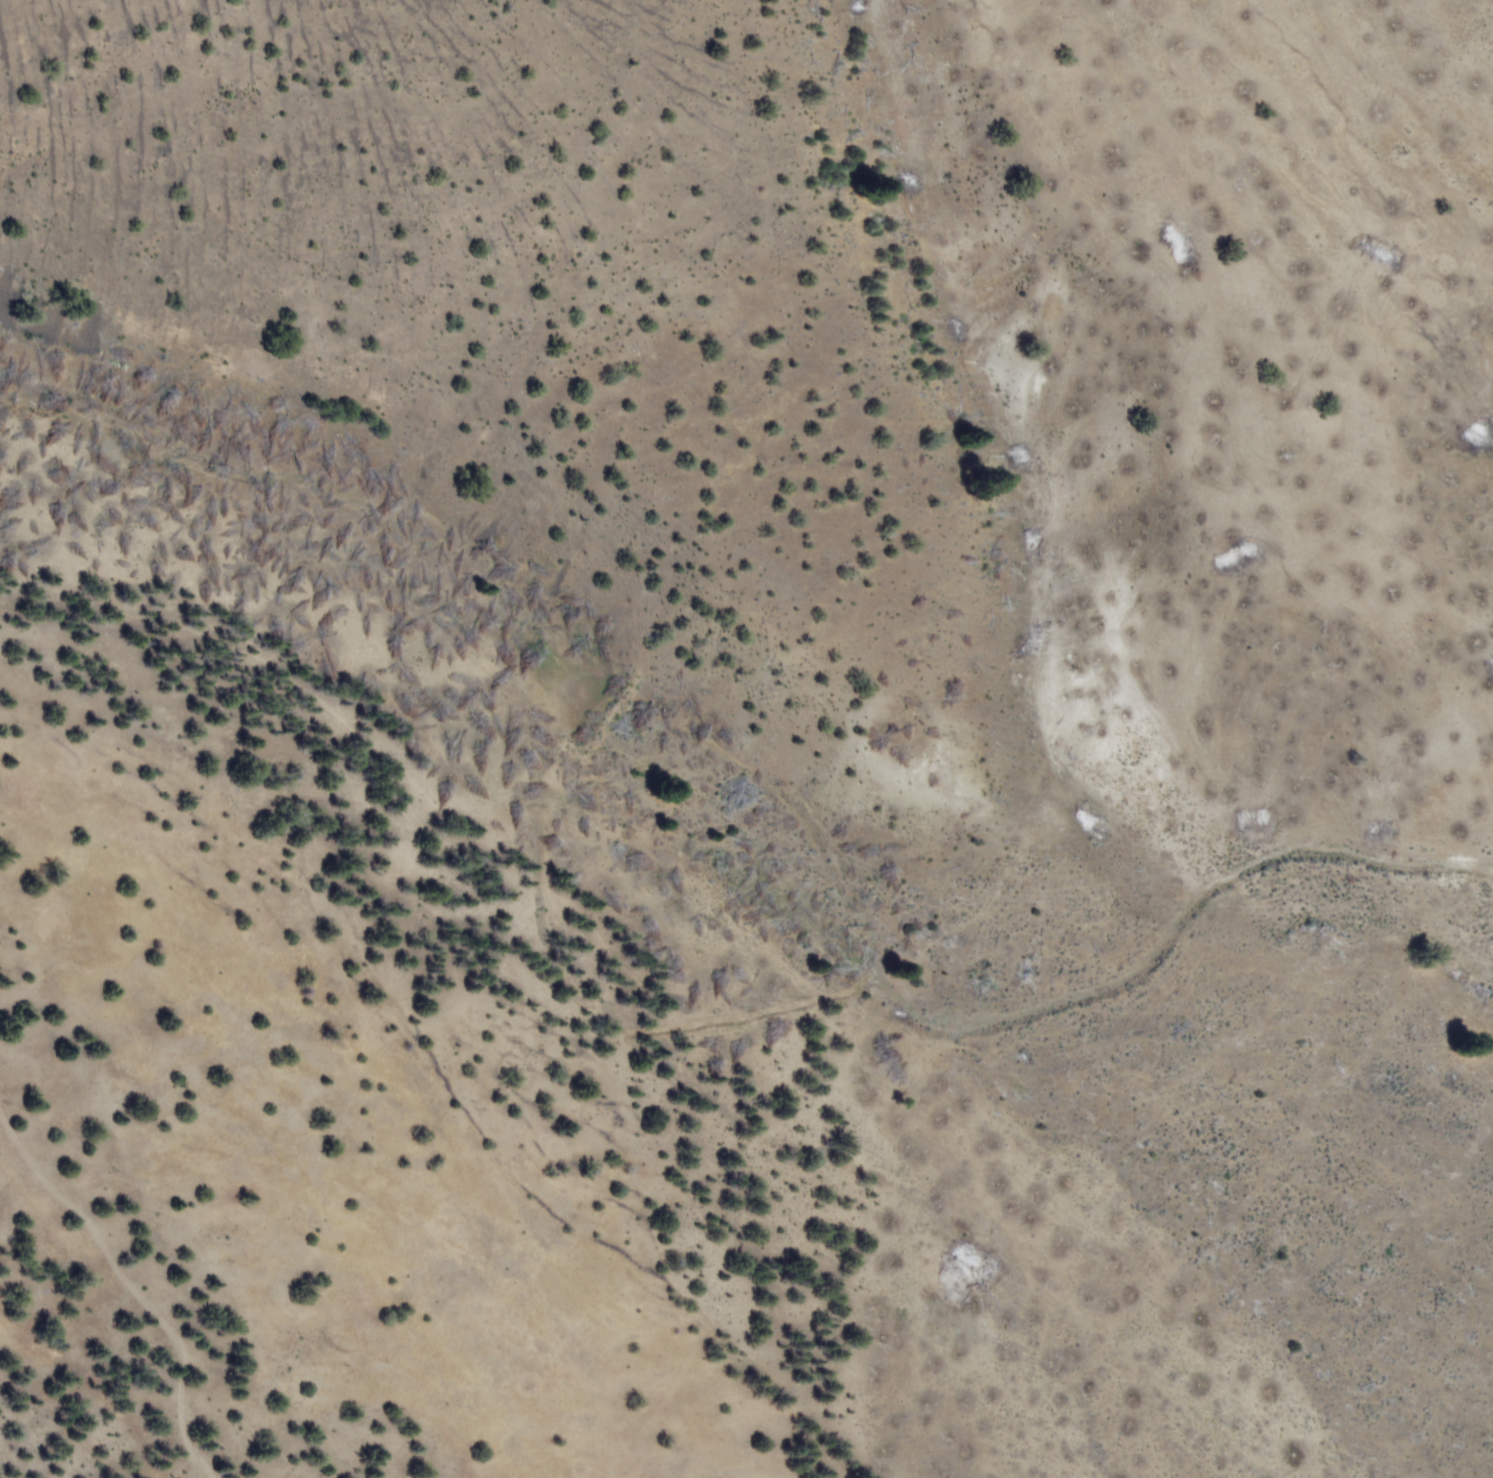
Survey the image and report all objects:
road: (125, 1284)

